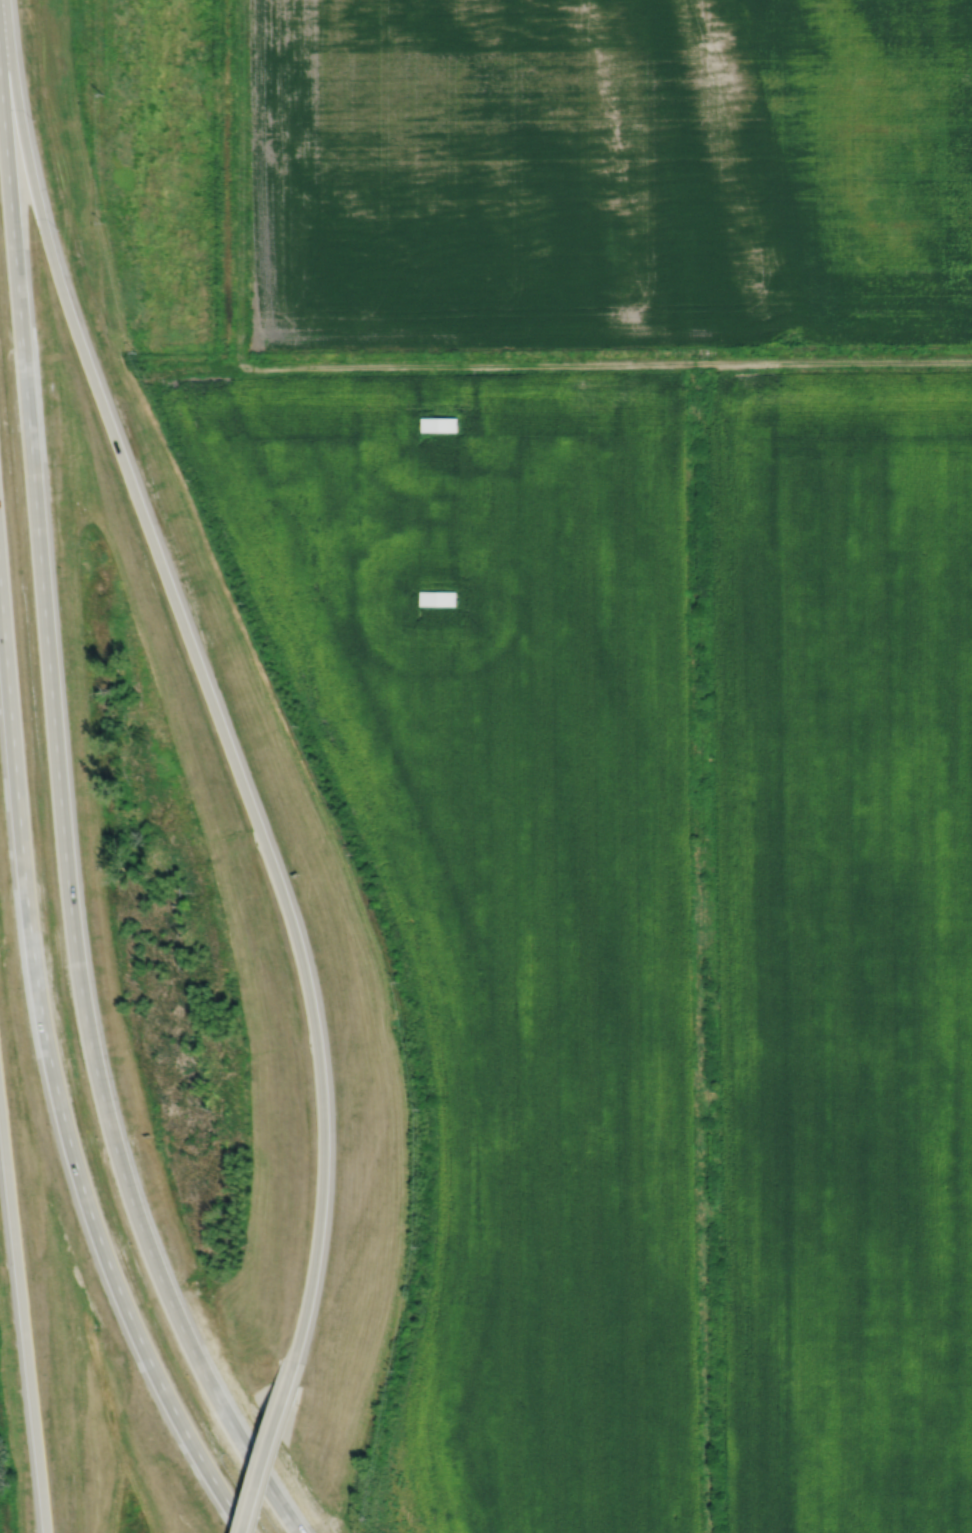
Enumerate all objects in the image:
crop: (609, 175)
road: (590, 364)
building: (439, 425)
building: (438, 599)
road: (201, 675)
road: (63, 830)
crop: (653, 896)
road: (55, 1083)
road: (23, 1317)
road: (267, 1446)

